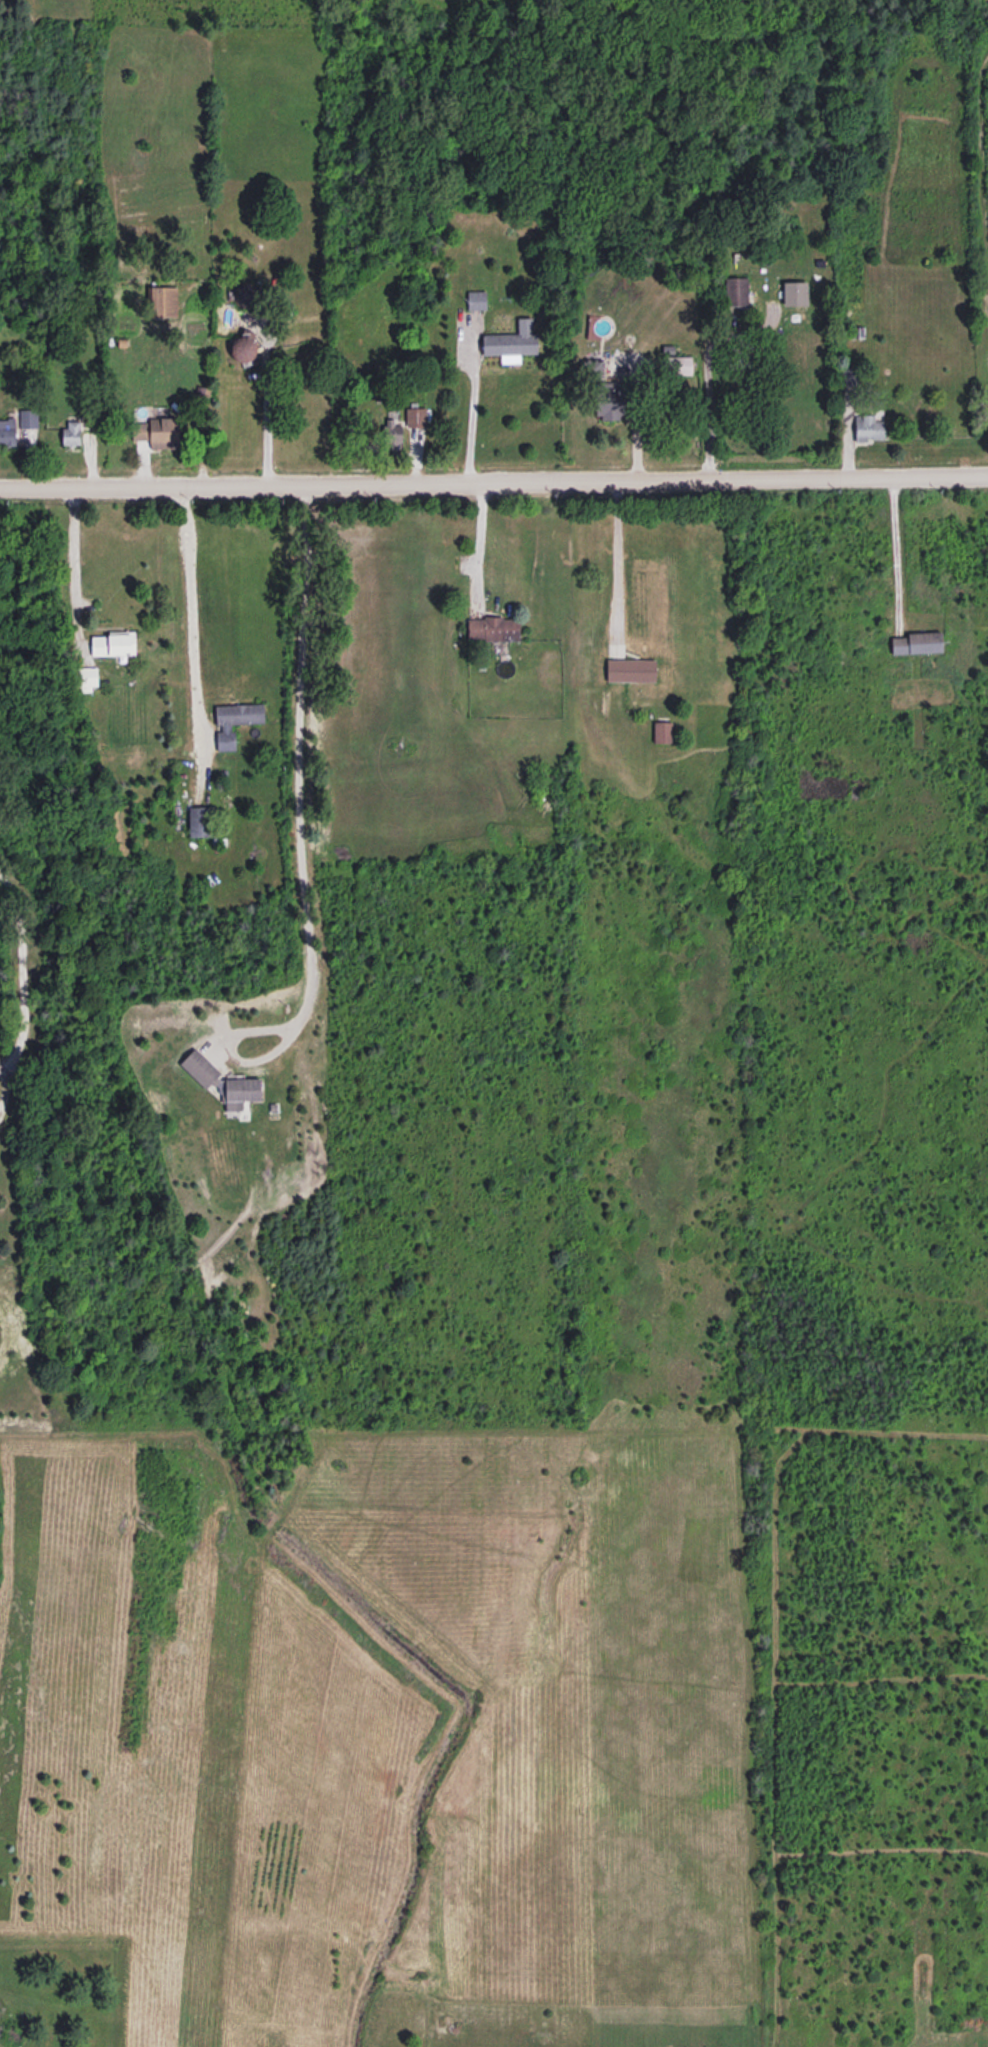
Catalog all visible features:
building: (736, 291)
building: (796, 293)
building: (244, 296)
building: (476, 299)
building: (162, 301)
building: (512, 342)
building: (244, 344)
building: (680, 365)
road: (707, 375)
building: (610, 399)
road: (265, 409)
road: (471, 415)
building: (416, 417)
building: (28, 418)
building: (868, 427)
building: (7, 431)
building: (71, 432)
building: (157, 432)
road: (494, 478)
road: (481, 546)
road: (895, 549)
road: (619, 562)
road: (73, 570)
building: (493, 628)
road: (189, 632)
building: (917, 642)
building: (114, 643)
building: (631, 669)
building: (86, 678)
building: (234, 721)
building: (663, 731)
building: (199, 821)
road: (297, 844)
road: (18, 961)
road: (6, 1058)
building: (200, 1068)
road: (5, 1073)
building: (239, 1092)

